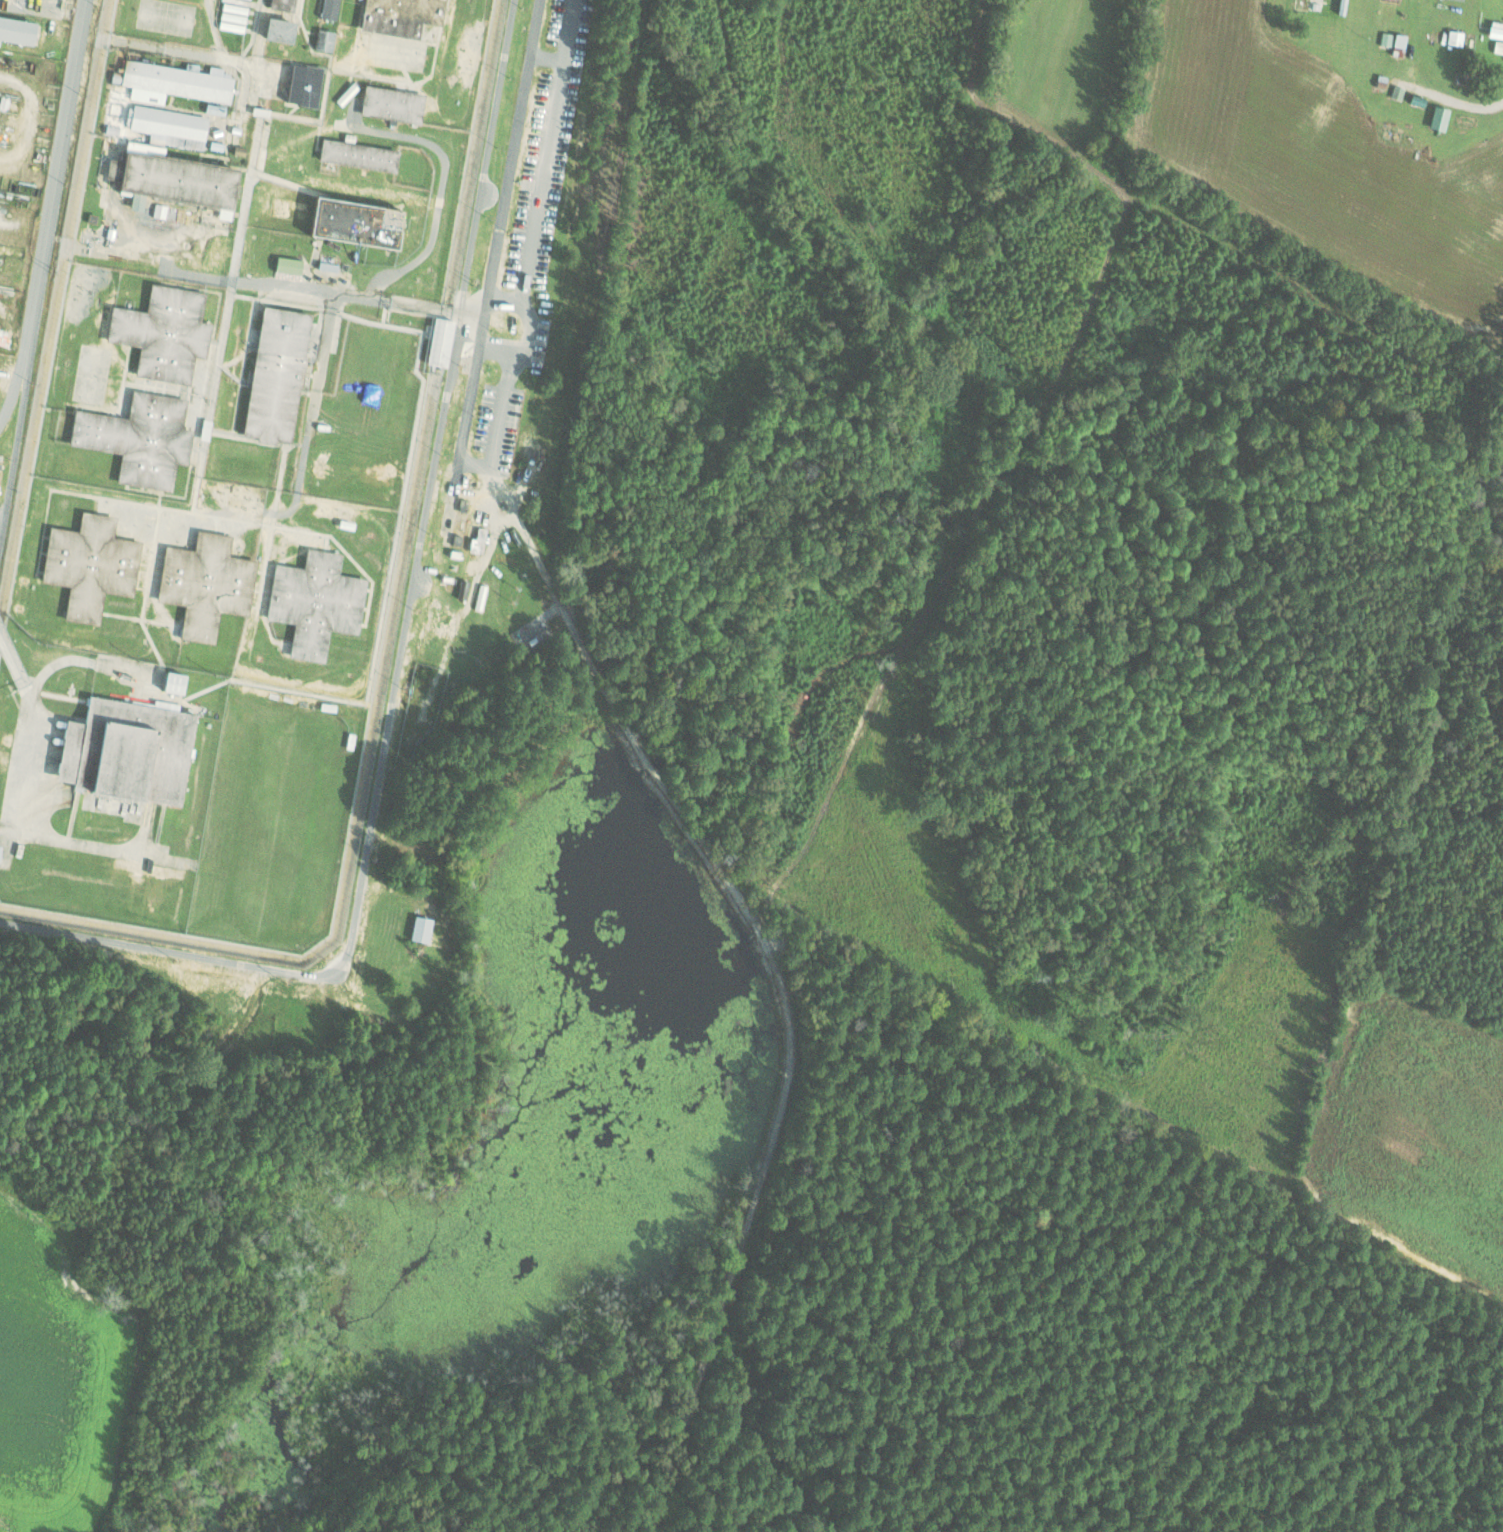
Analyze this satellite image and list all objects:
building: (330, 7)
building: (404, 16)
building: (18, 30)
building: (282, 30)
building: (1456, 37)
building: (326, 40)
building: (174, 82)
building: (306, 85)
road: (1455, 100)
building: (394, 104)
building: (1440, 118)
building: (156, 123)
building: (360, 155)
building: (174, 178)
road: (52, 213)
building: (359, 223)
building: (290, 265)
building: (165, 333)
building: (442, 342)
building: (279, 375)
building: (141, 439)
road: (480, 465)
building: (92, 565)
building: (207, 584)
building: (317, 603)
building: (176, 683)
building: (130, 749)
building: (422, 928)
road: (773, 972)

